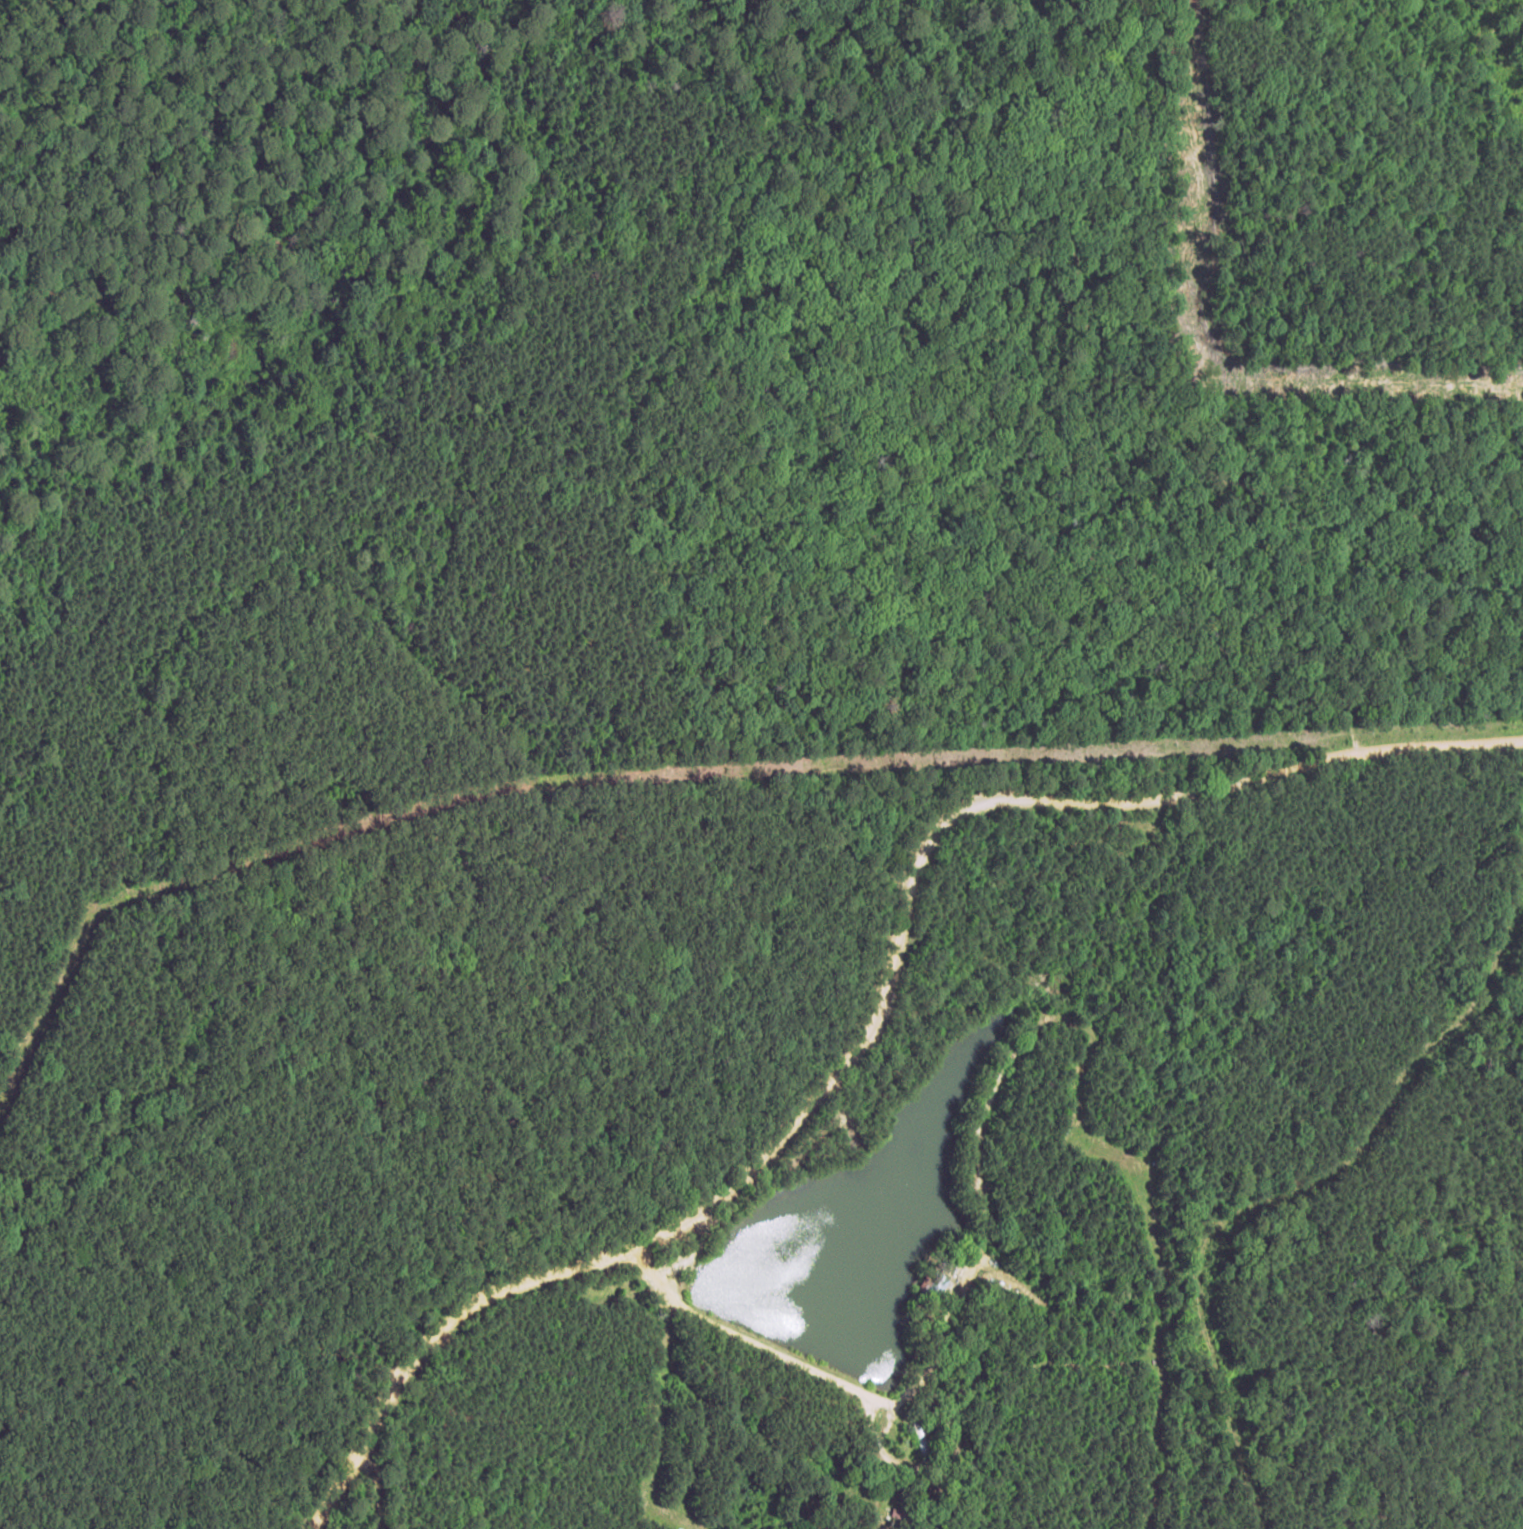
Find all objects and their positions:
road: (912, 1040)

